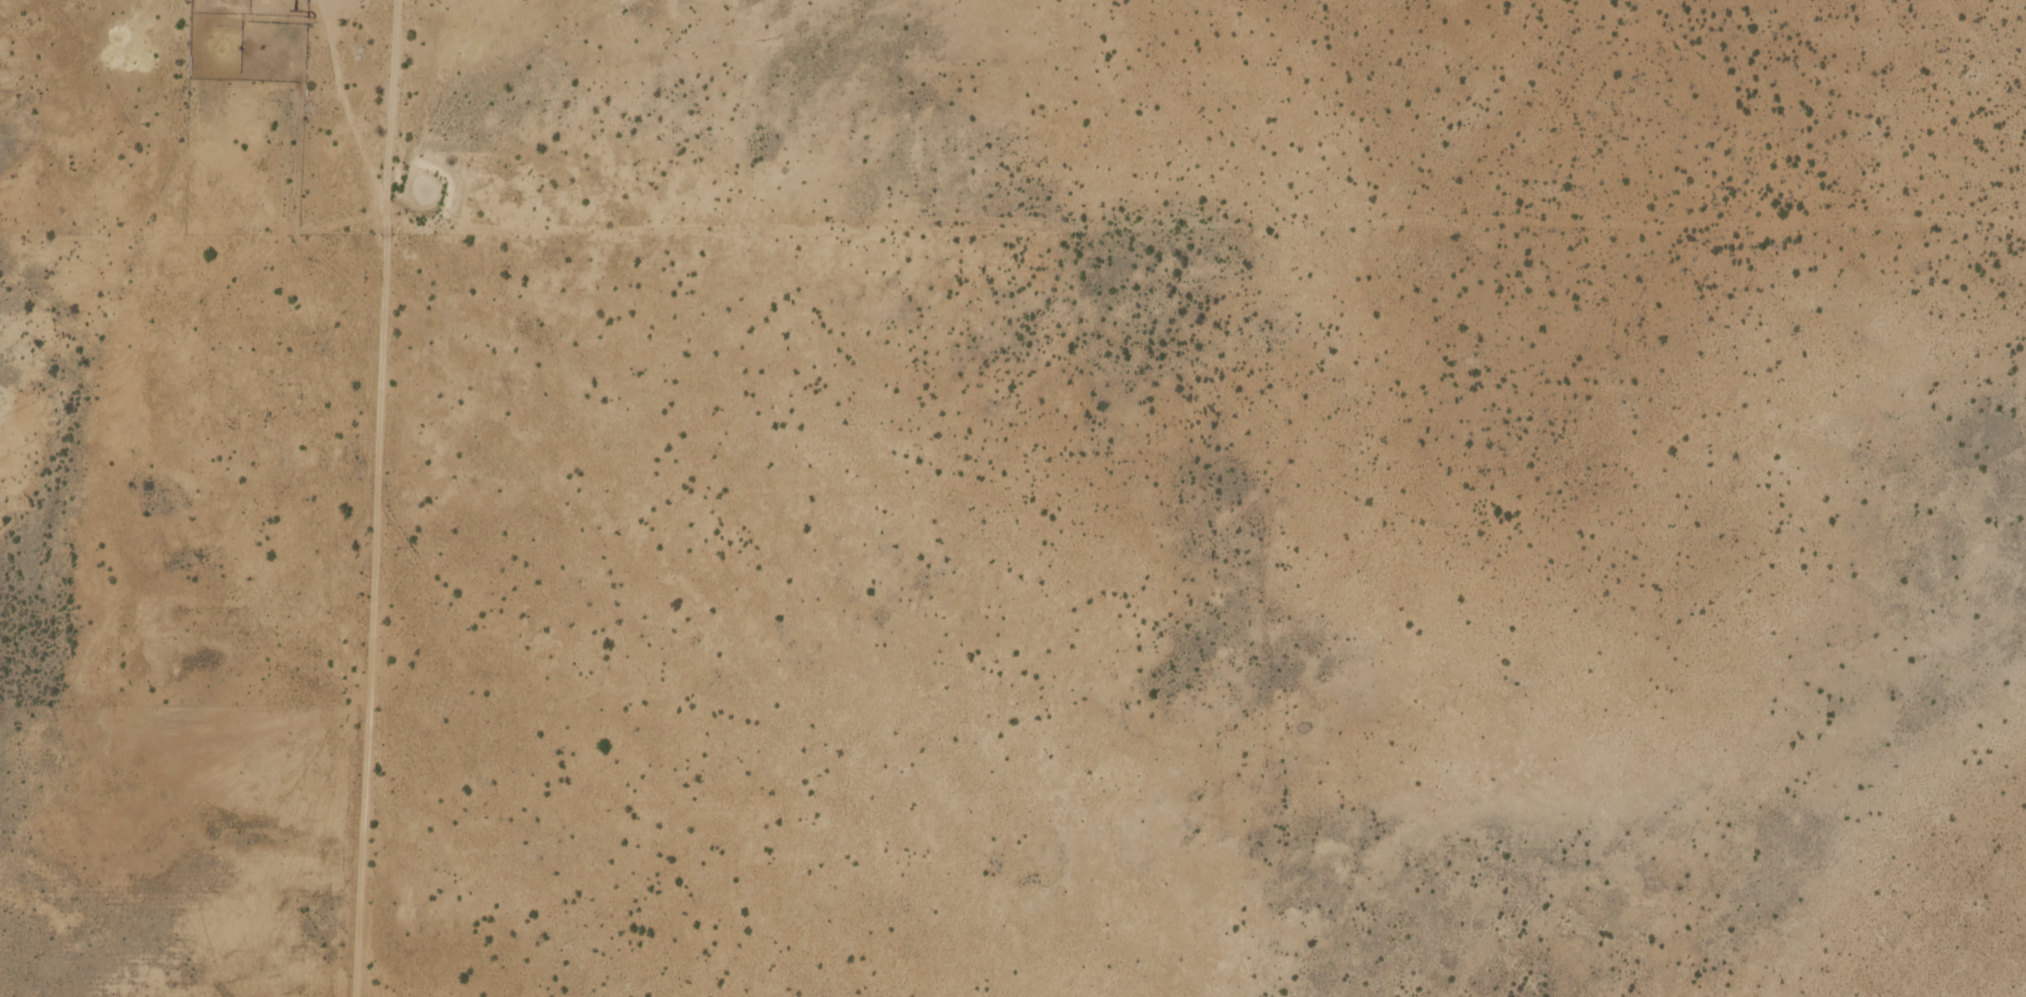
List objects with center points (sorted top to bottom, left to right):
road: (1865, 160)

